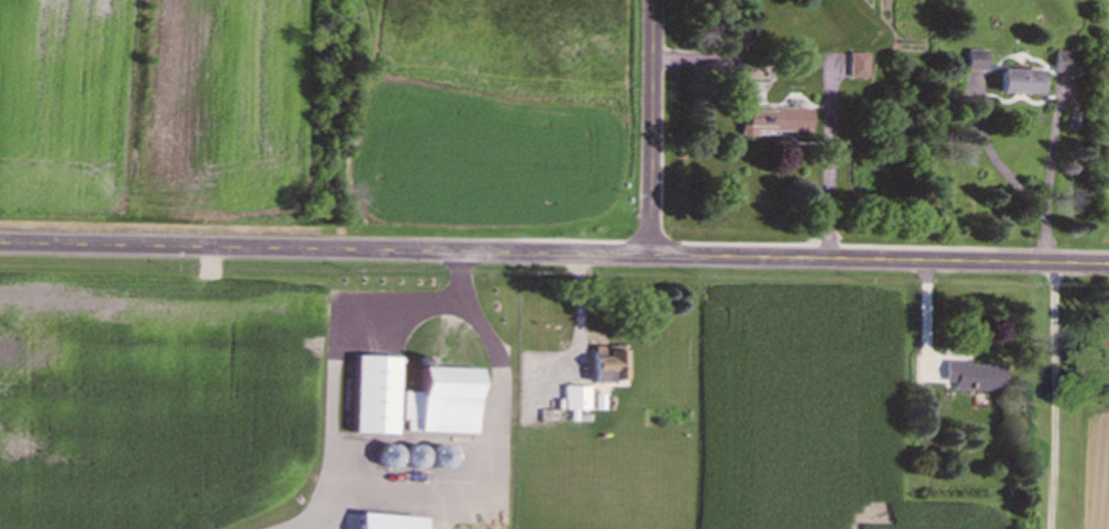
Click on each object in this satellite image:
building: (735, 40)
building: (973, 63)
building: (1062, 64)
building: (856, 67)
building: (1015, 83)
building: (771, 124)
road: (653, 131)
road: (1010, 176)
road: (826, 183)
road: (553, 260)
road: (337, 347)
building: (602, 368)
building: (971, 379)
crop: (159, 398)
building: (371, 398)
road: (1052, 398)
building: (573, 401)
building: (437, 404)
crop: (819, 412)
building: (383, 459)
building: (410, 459)
building: (436, 460)
crop: (1097, 471)
crop: (489, 522)

